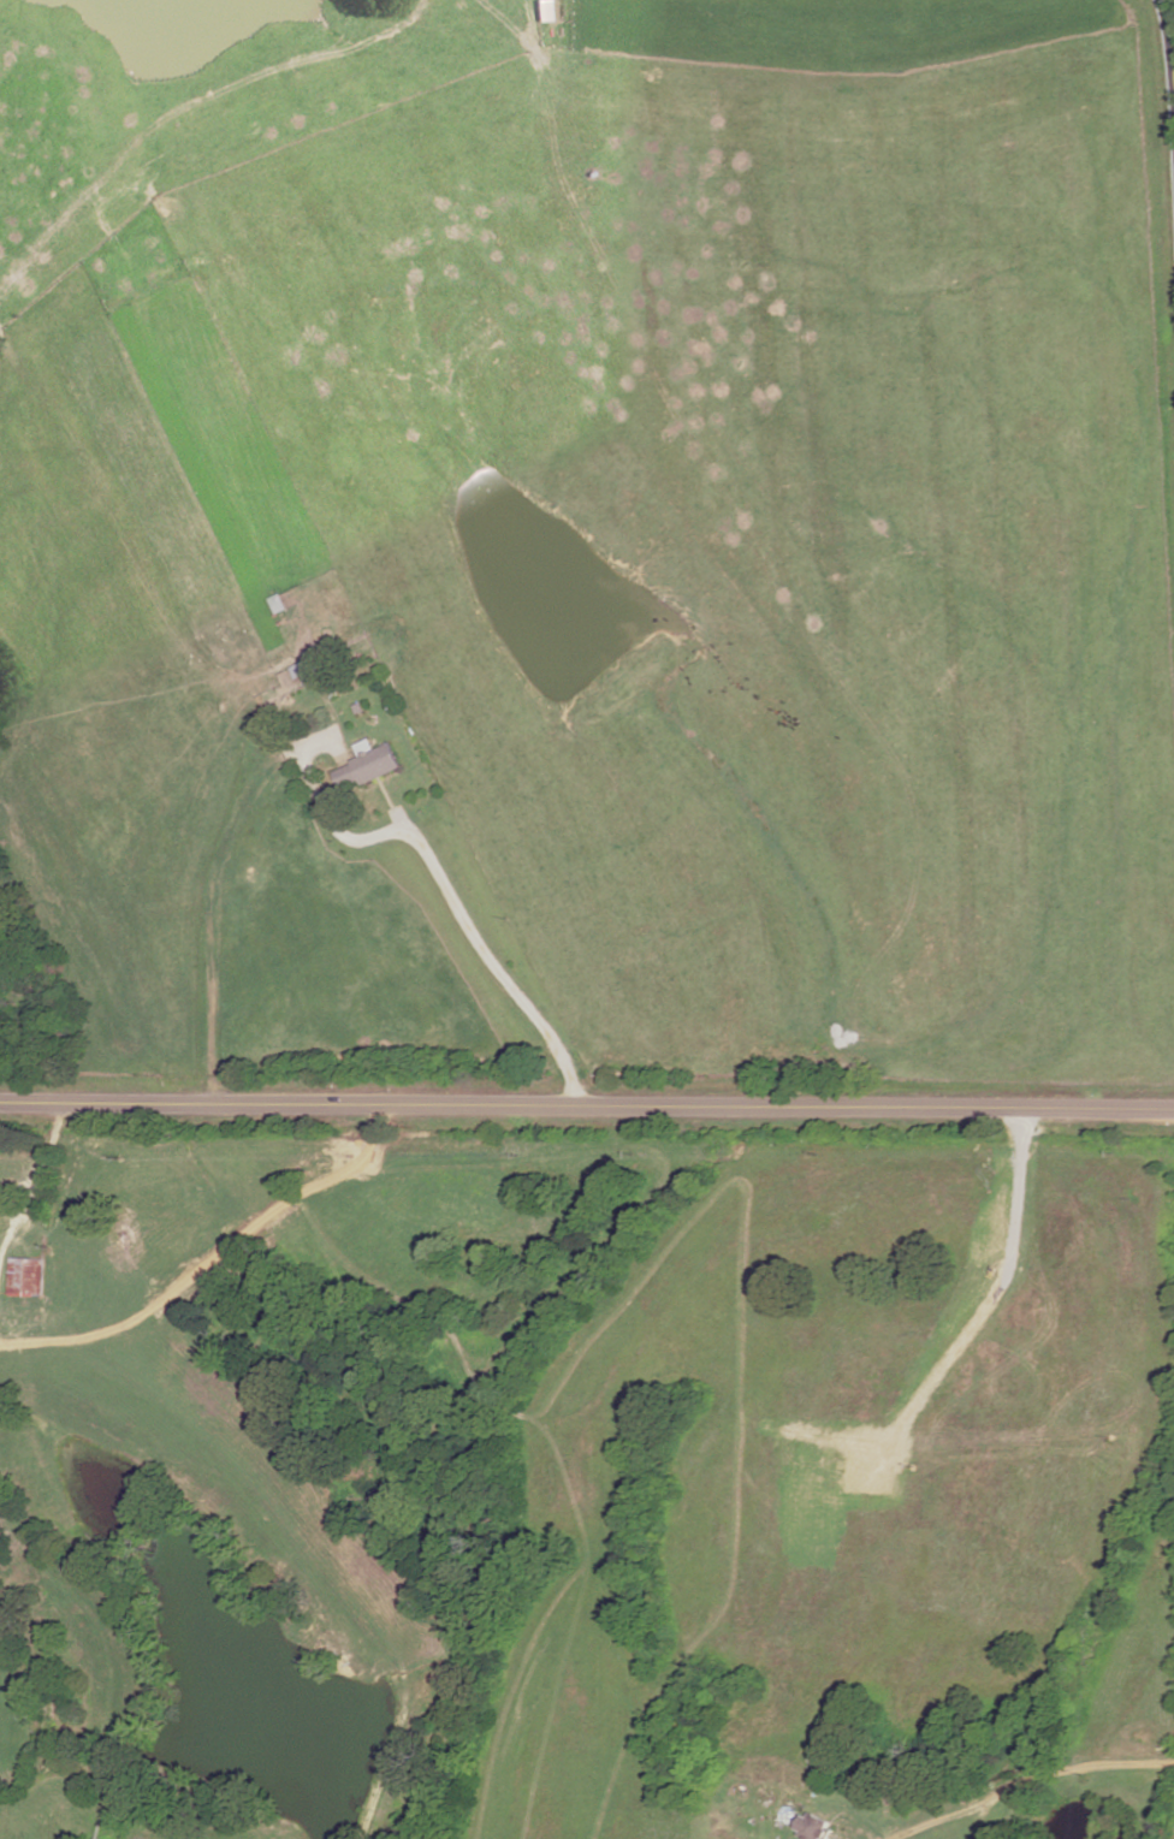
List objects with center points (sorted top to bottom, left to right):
road: (1169, 30)
building: (304, 672)
building: (332, 692)
building: (369, 766)
road: (494, 962)
road: (586, 1105)
road: (32, 1190)
road: (213, 1256)
building: (25, 1277)
road: (1020, 1774)
road: (825, 1791)
building: (812, 1828)

